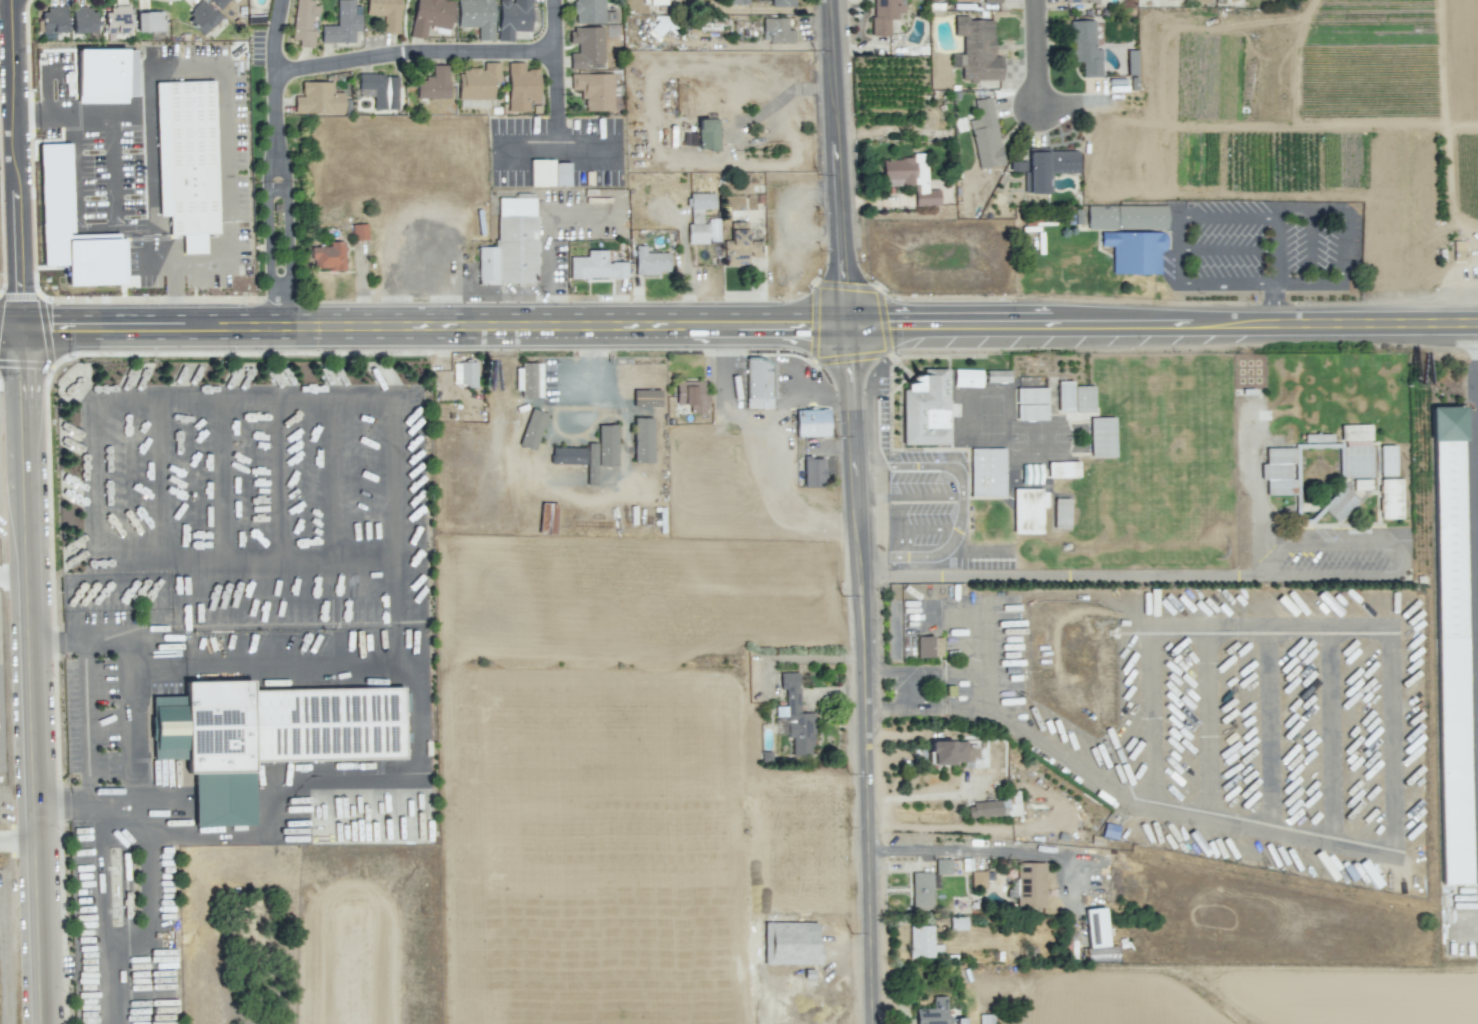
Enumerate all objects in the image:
building: (991, 1)
building: (1079, 1)
building: (737, 2)
building: (218, 3)
building: (782, 3)
building: (589, 11)
building: (385, 13)
building: (885, 15)
building: (430, 16)
building: (476, 17)
building: (202, 18)
building: (513, 18)
building: (118, 19)
building: (53, 20)
building: (84, 20)
building: (149, 21)
building: (303, 22)
building: (342, 24)
road: (404, 25)
building: (776, 30)
road: (275, 35)
building: (1085, 47)
building: (586, 48)
road: (415, 50)
building: (976, 50)
road: (1040, 55)
building: (1131, 62)
building: (105, 75)
road: (226, 81)
building: (478, 81)
building: (434, 84)
building: (521, 86)
building: (380, 90)
building: (594, 90)
building: (318, 99)
road: (775, 100)
road: (557, 102)
building: (707, 134)
building: (985, 134)
road: (526, 145)
road: (112, 148)
building: (188, 159)
road: (18, 161)
building: (1049, 167)
building: (910, 178)
building: (55, 188)
road: (267, 197)
road: (286, 197)
road: (31, 211)
building: (1126, 217)
building: (359, 232)
building: (510, 244)
building: (740, 246)
building: (1458, 250)
building: (1134, 251)
building: (327, 256)
building: (650, 262)
road: (545, 266)
building: (596, 266)
road: (174, 283)
road: (0, 292)
road: (478, 293)
traffic signals: (23, 296)
traffic signals: (848, 297)
traffic signals: (49, 323)
road: (235, 324)
traffic signals: (887, 324)
road: (953, 324)
road: (1123, 324)
road: (1333, 324)
road: (552, 326)
road: (741, 326)
traffic signals: (816, 326)
road: (234, 356)
traffic signals: (851, 356)
traffic signals: (23, 357)
building: (464, 373)
building: (998, 376)
building: (967, 378)
building: (528, 380)
road: (1476, 381)
building: (758, 383)
road: (1412, 394)
building: (691, 395)
building: (646, 397)
building: (1031, 404)
building: (926, 408)
building: (812, 422)
road: (751, 428)
building: (532, 429)
building: (1102, 437)
building: (642, 440)
building: (606, 445)
building: (568, 455)
building: (1387, 460)
building: (591, 464)
building: (1063, 469)
building: (813, 472)
road: (910, 497)
building: (1391, 499)
road: (787, 500)
road: (962, 503)
parking lot: (922, 504)
building: (1338, 504)
road: (860, 511)
building: (1027, 511)
railway: (907, 512)
building: (1061, 513)
building: (547, 521)
road: (916, 529)
road: (979, 549)
road: (1404, 558)
road: (1157, 574)
road: (13, 575)
road: (875, 577)
building: (1451, 645)
building: (929, 647)
road: (978, 656)
road: (1387, 658)
road: (418, 671)
road: (957, 672)
road: (28, 673)
road: (902, 674)
road: (904, 710)
building: (795, 716)
building: (274, 737)
road: (1049, 749)
building: (948, 752)
road: (128, 771)
road: (60, 803)
building: (996, 807)
road: (123, 833)
road: (16, 839)
road: (146, 846)
road: (976, 850)
building: (942, 866)
building: (979, 879)
building: (1030, 885)
building: (921, 890)
road: (103, 913)
building: (1096, 927)
building: (923, 942)
building: (790, 943)
building: (934, 1012)
building: (986, 1019)

